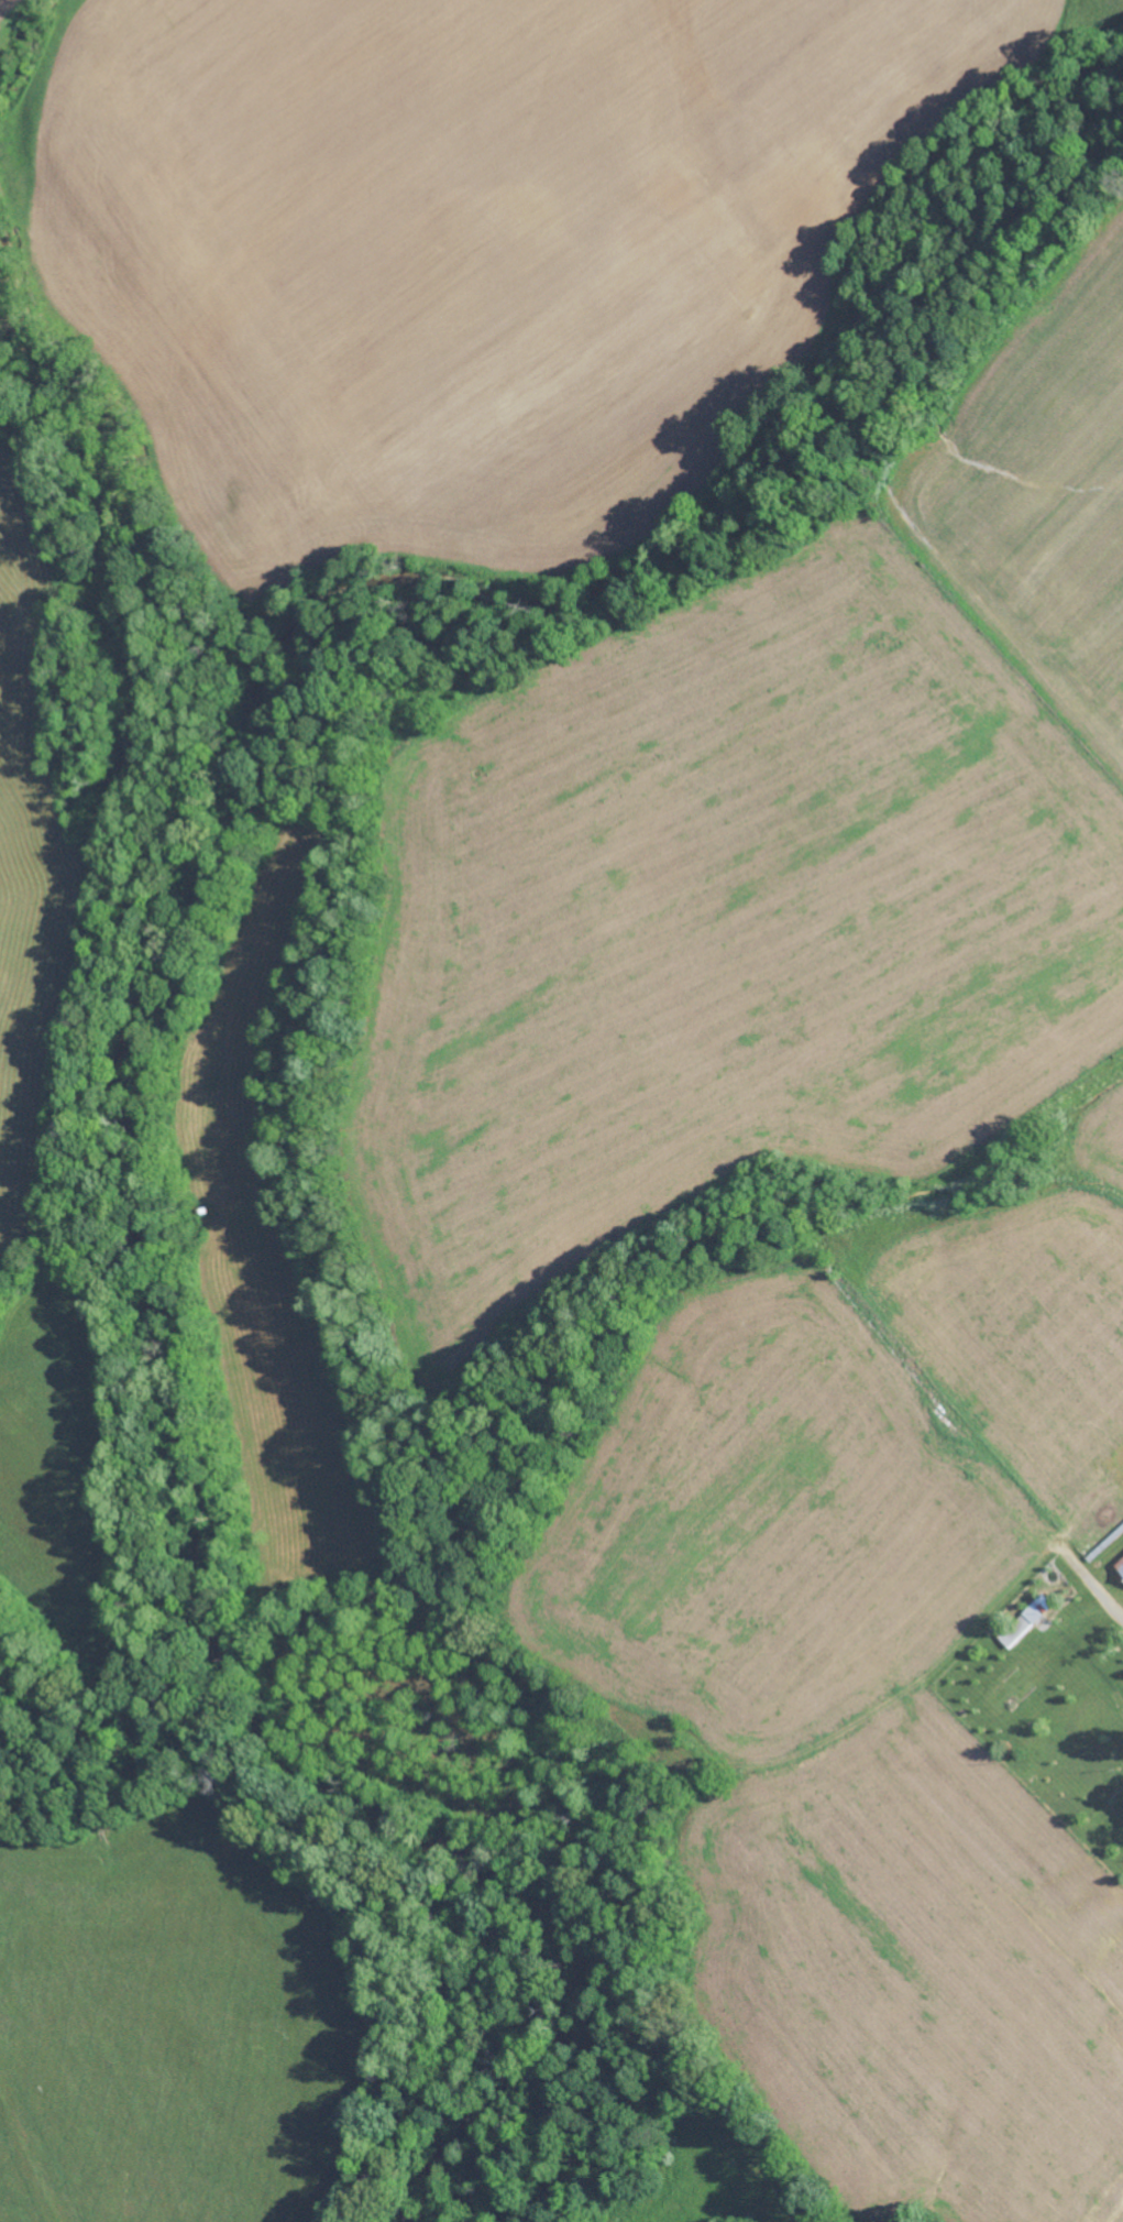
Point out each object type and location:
building: (1122, 1556)
building: (1121, 1569)
building: (1026, 1620)

